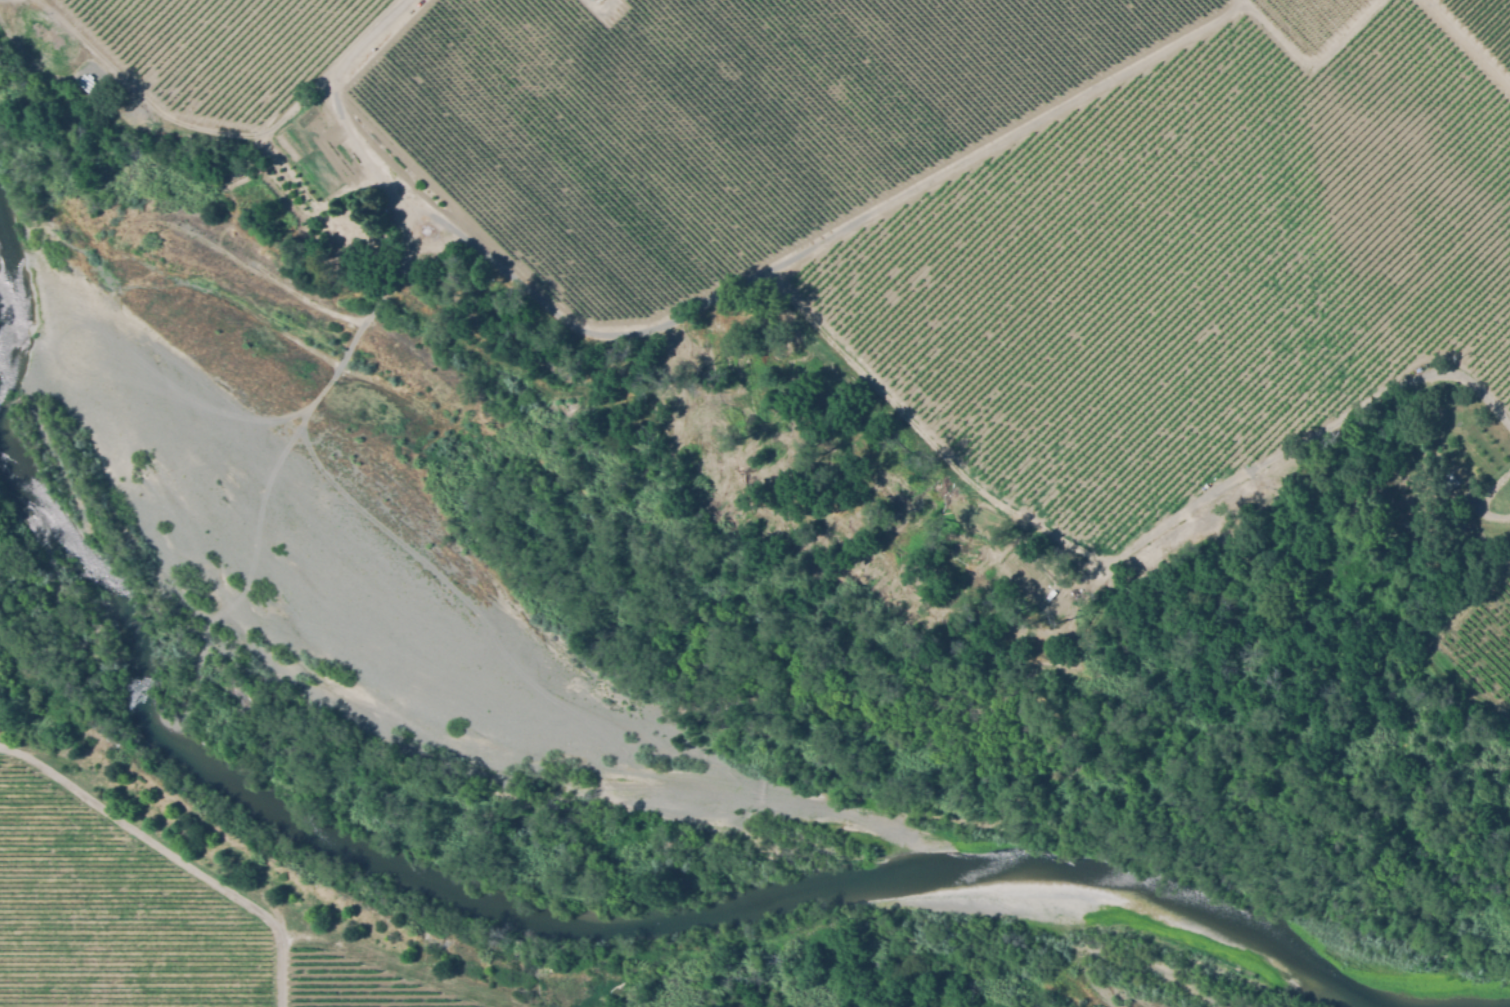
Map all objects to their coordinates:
building: (84, 87)
building: (1444, 489)
road: (179, 853)
river: (640, 926)

